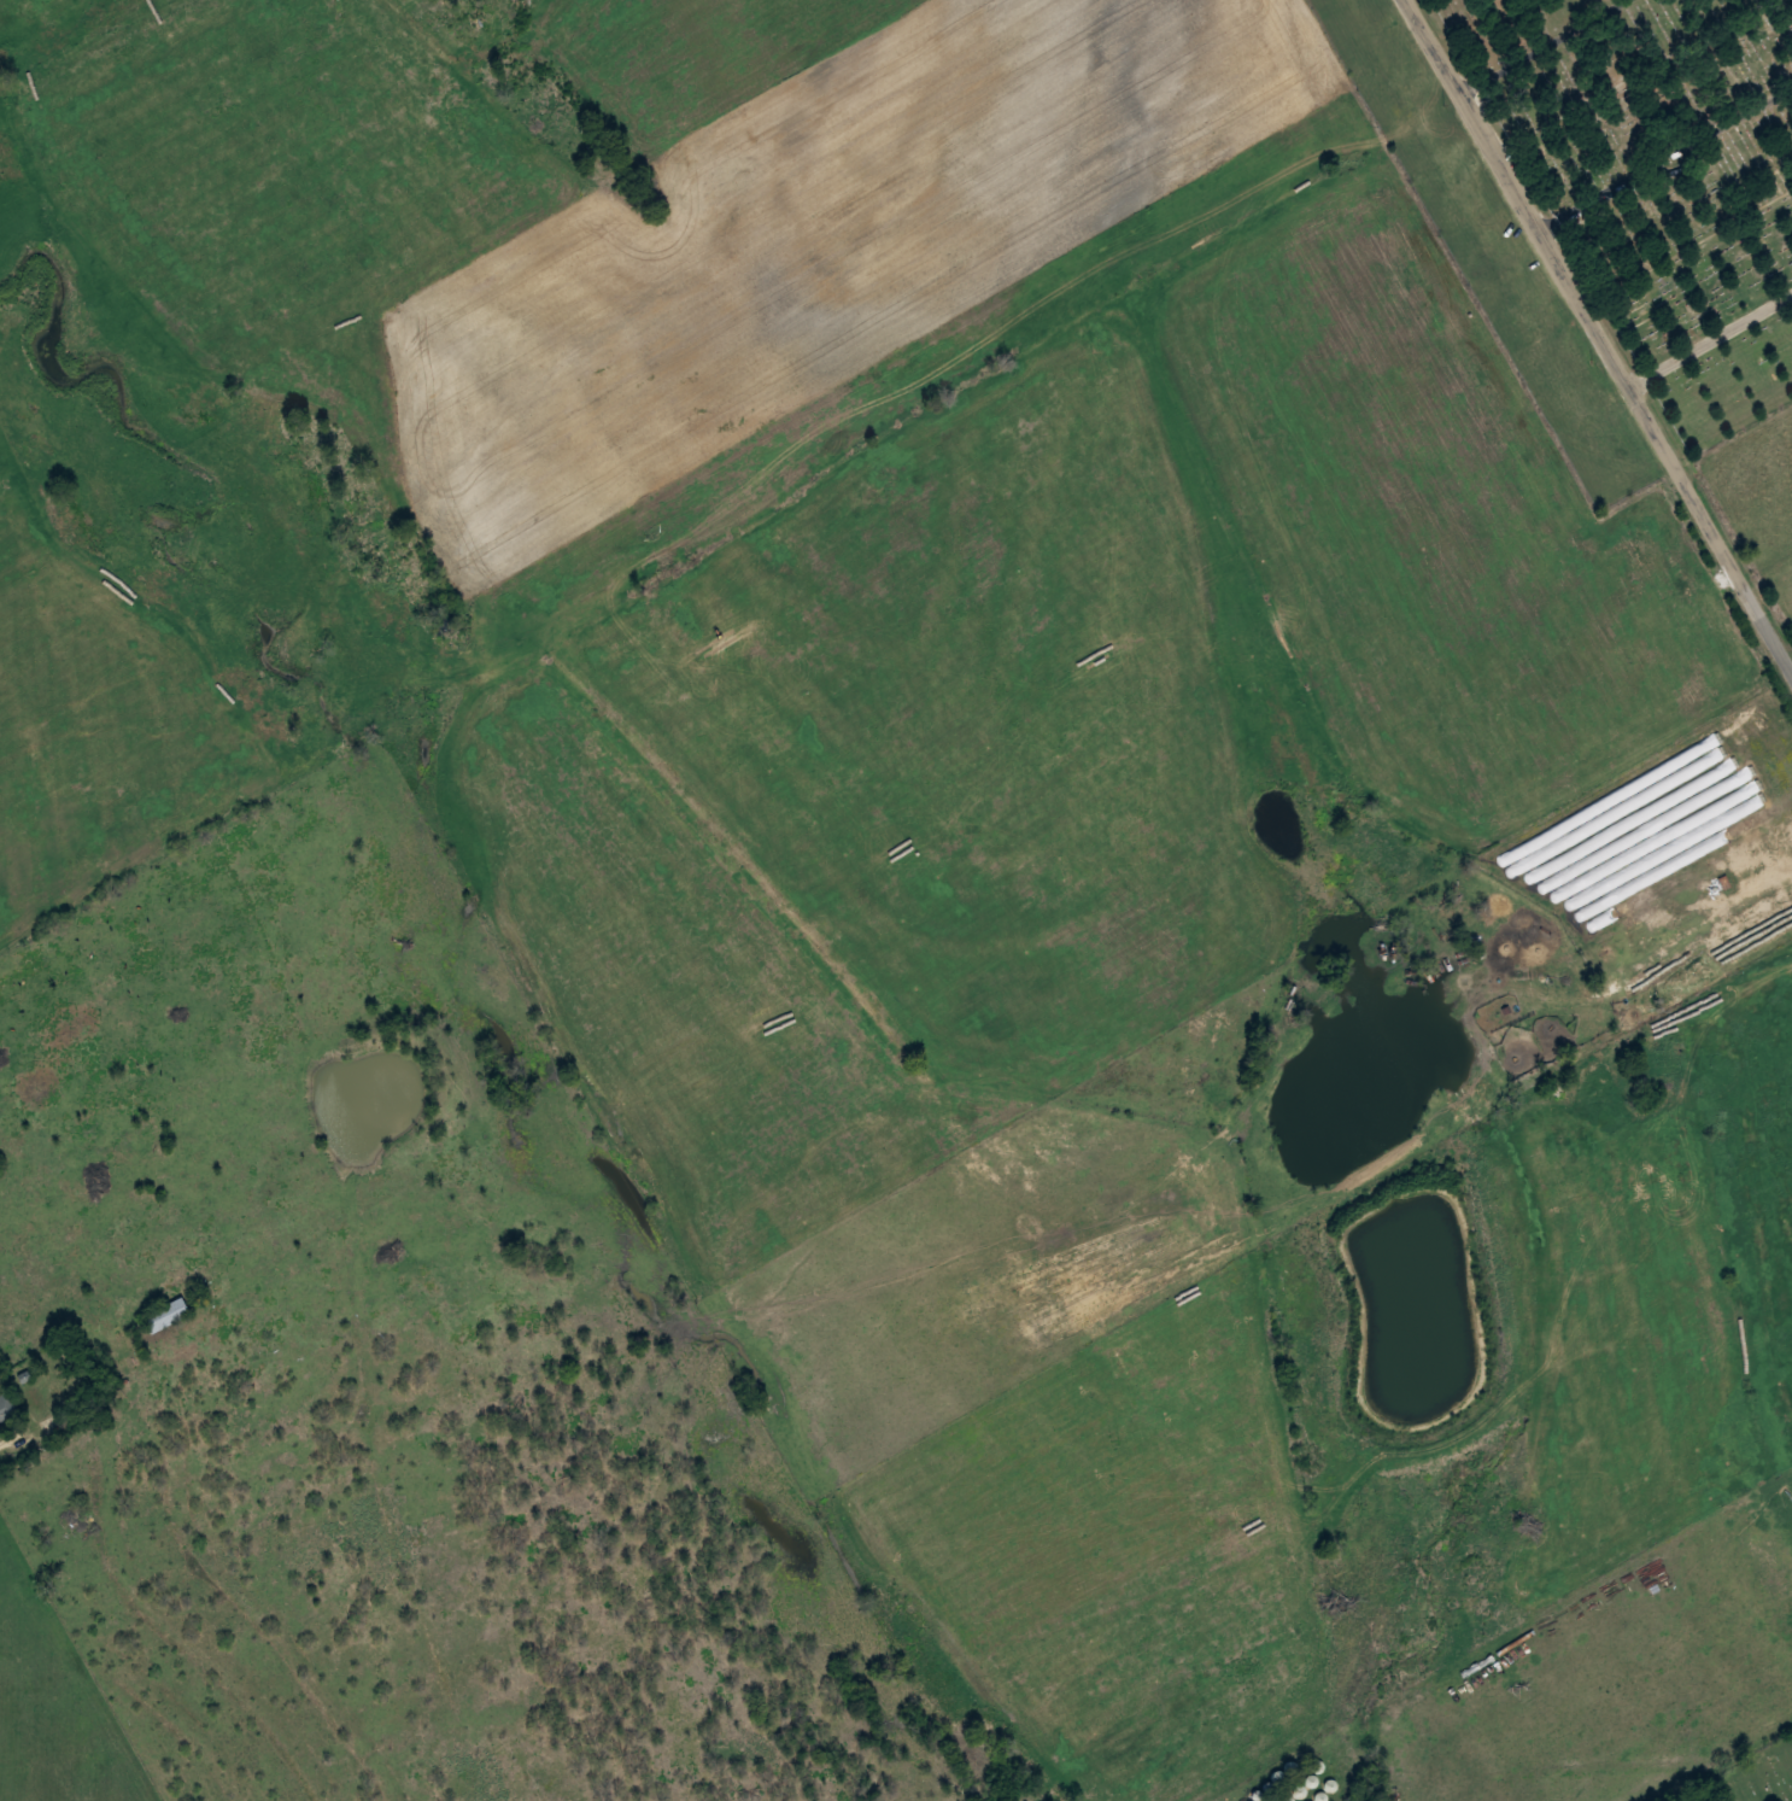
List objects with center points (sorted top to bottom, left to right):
road: (1600, 337)
building: (165, 1315)
building: (7, 1407)
park: (1761, 1774)

